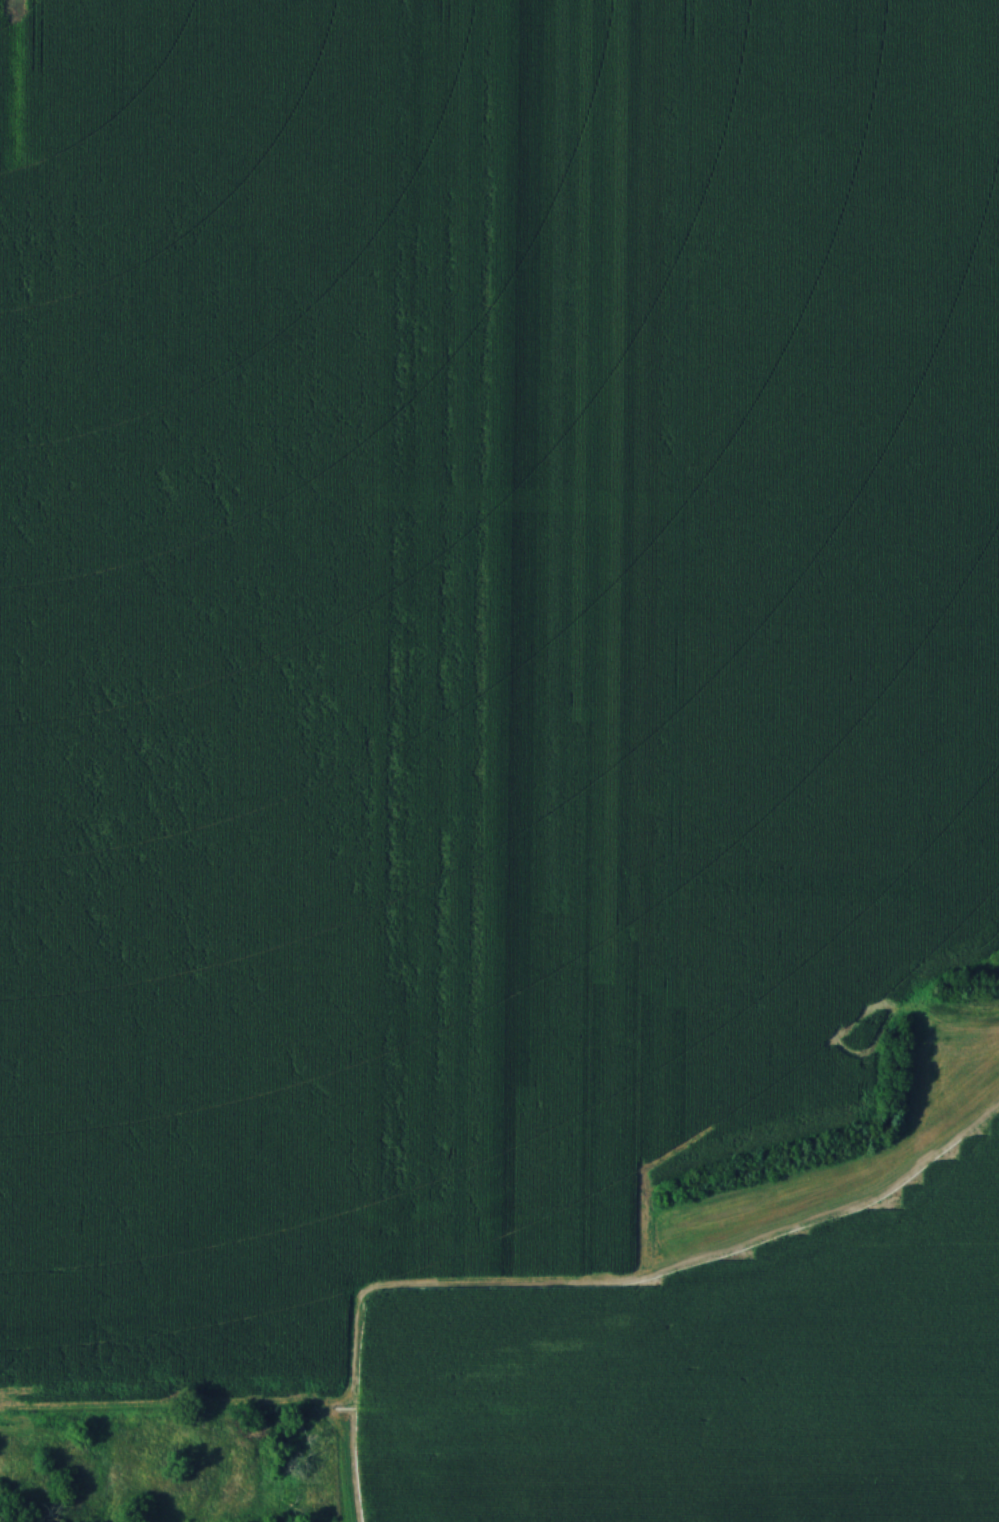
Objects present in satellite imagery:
building: (187, 1304)

